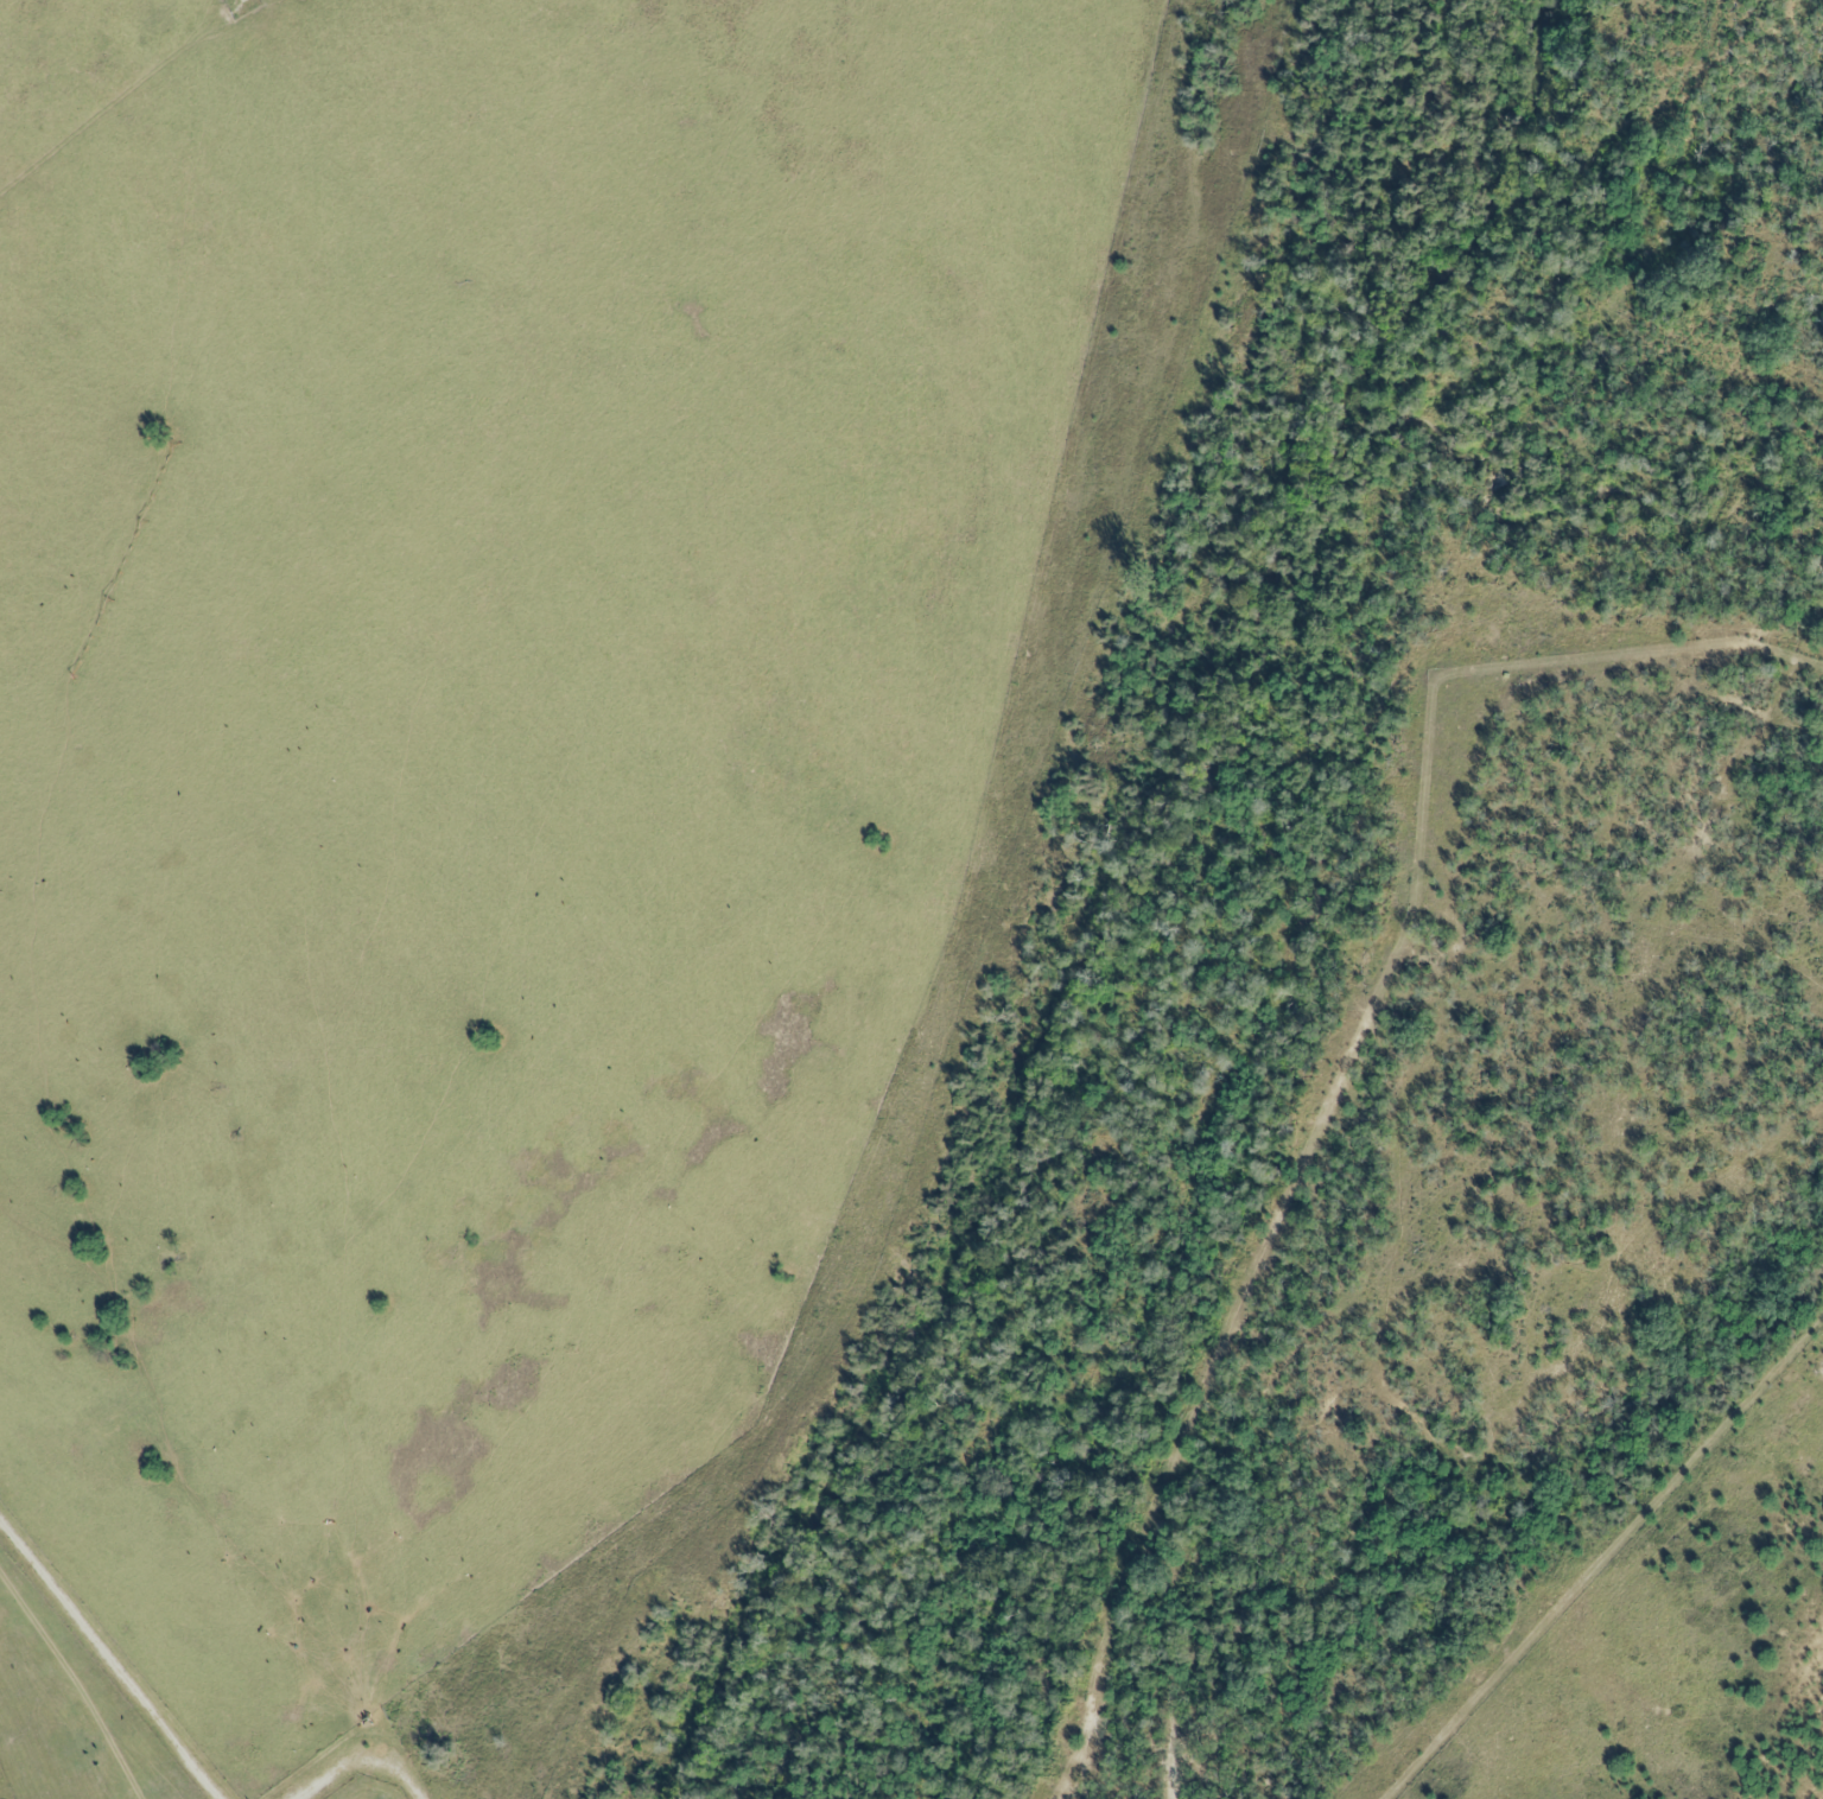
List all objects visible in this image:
river: (1689, 248)
river: (1008, 1156)
road: (114, 1655)
road: (370, 1746)

